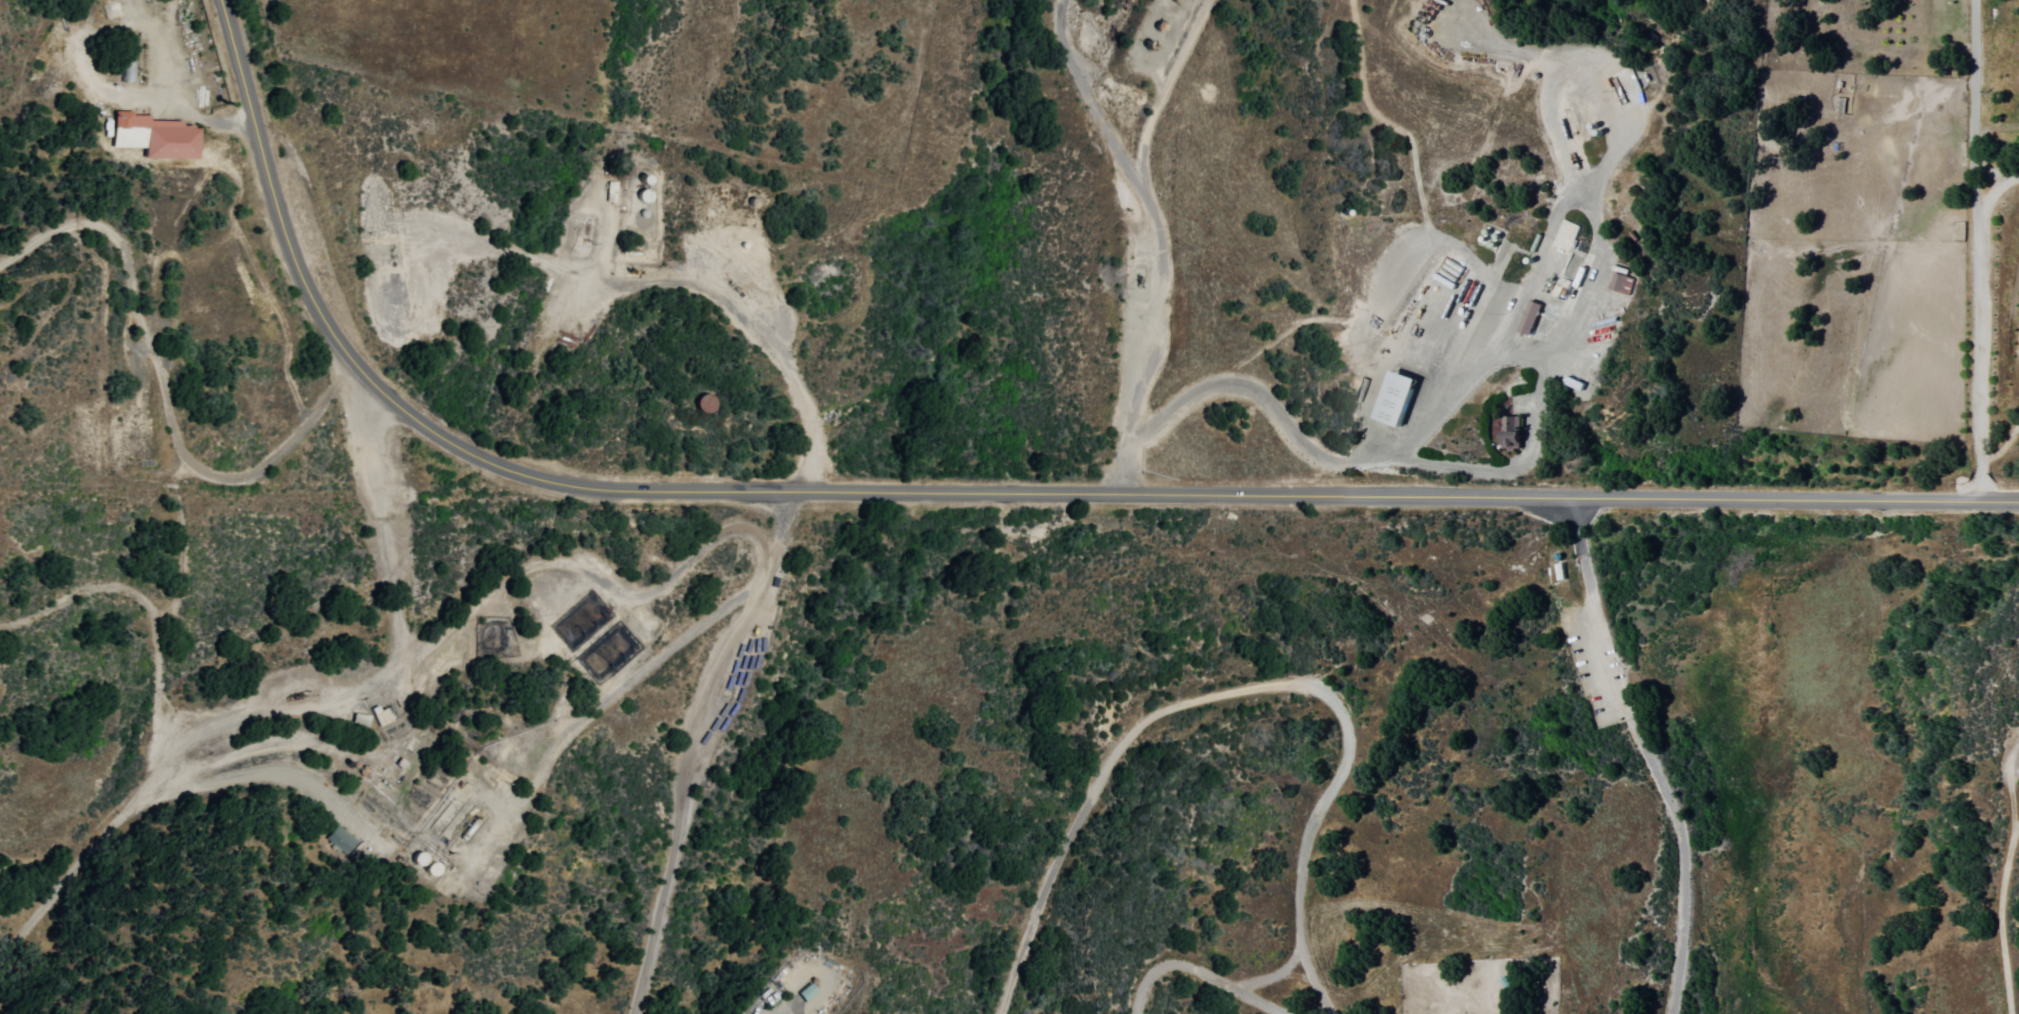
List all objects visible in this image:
building: (158, 136)
building: (1565, 237)
building: (1619, 281)
building: (1525, 317)
road: (1982, 355)
building: (1390, 400)
building: (1506, 433)
road: (1130, 435)
road: (440, 486)
road: (973, 488)
road: (762, 575)
road: (478, 600)
road: (1589, 610)
road: (275, 624)
road: (1239, 689)
road: (269, 712)
road: (159, 729)
road: (688, 786)
building: (341, 839)
road: (1686, 858)
road: (1995, 910)
road: (807, 957)
road: (1201, 970)
road: (1269, 972)

